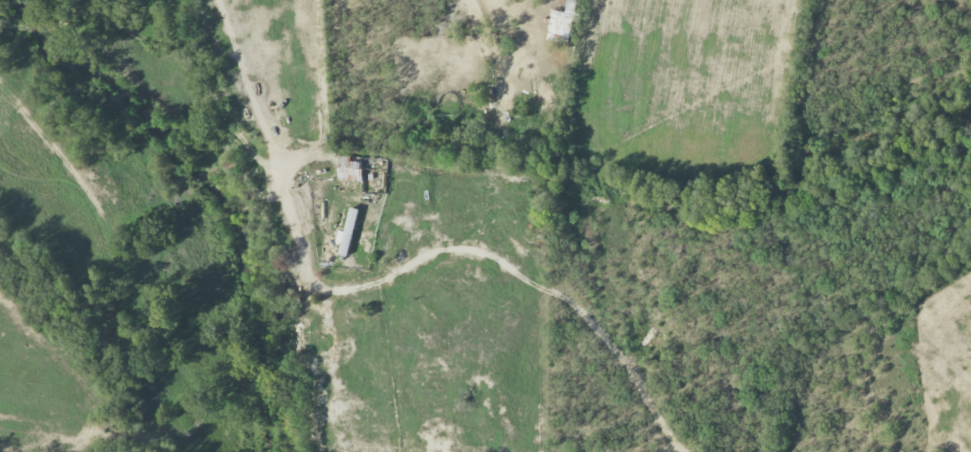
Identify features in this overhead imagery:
building: (562, 24)
road: (323, 98)
road: (272, 125)
building: (349, 169)
building: (347, 233)

